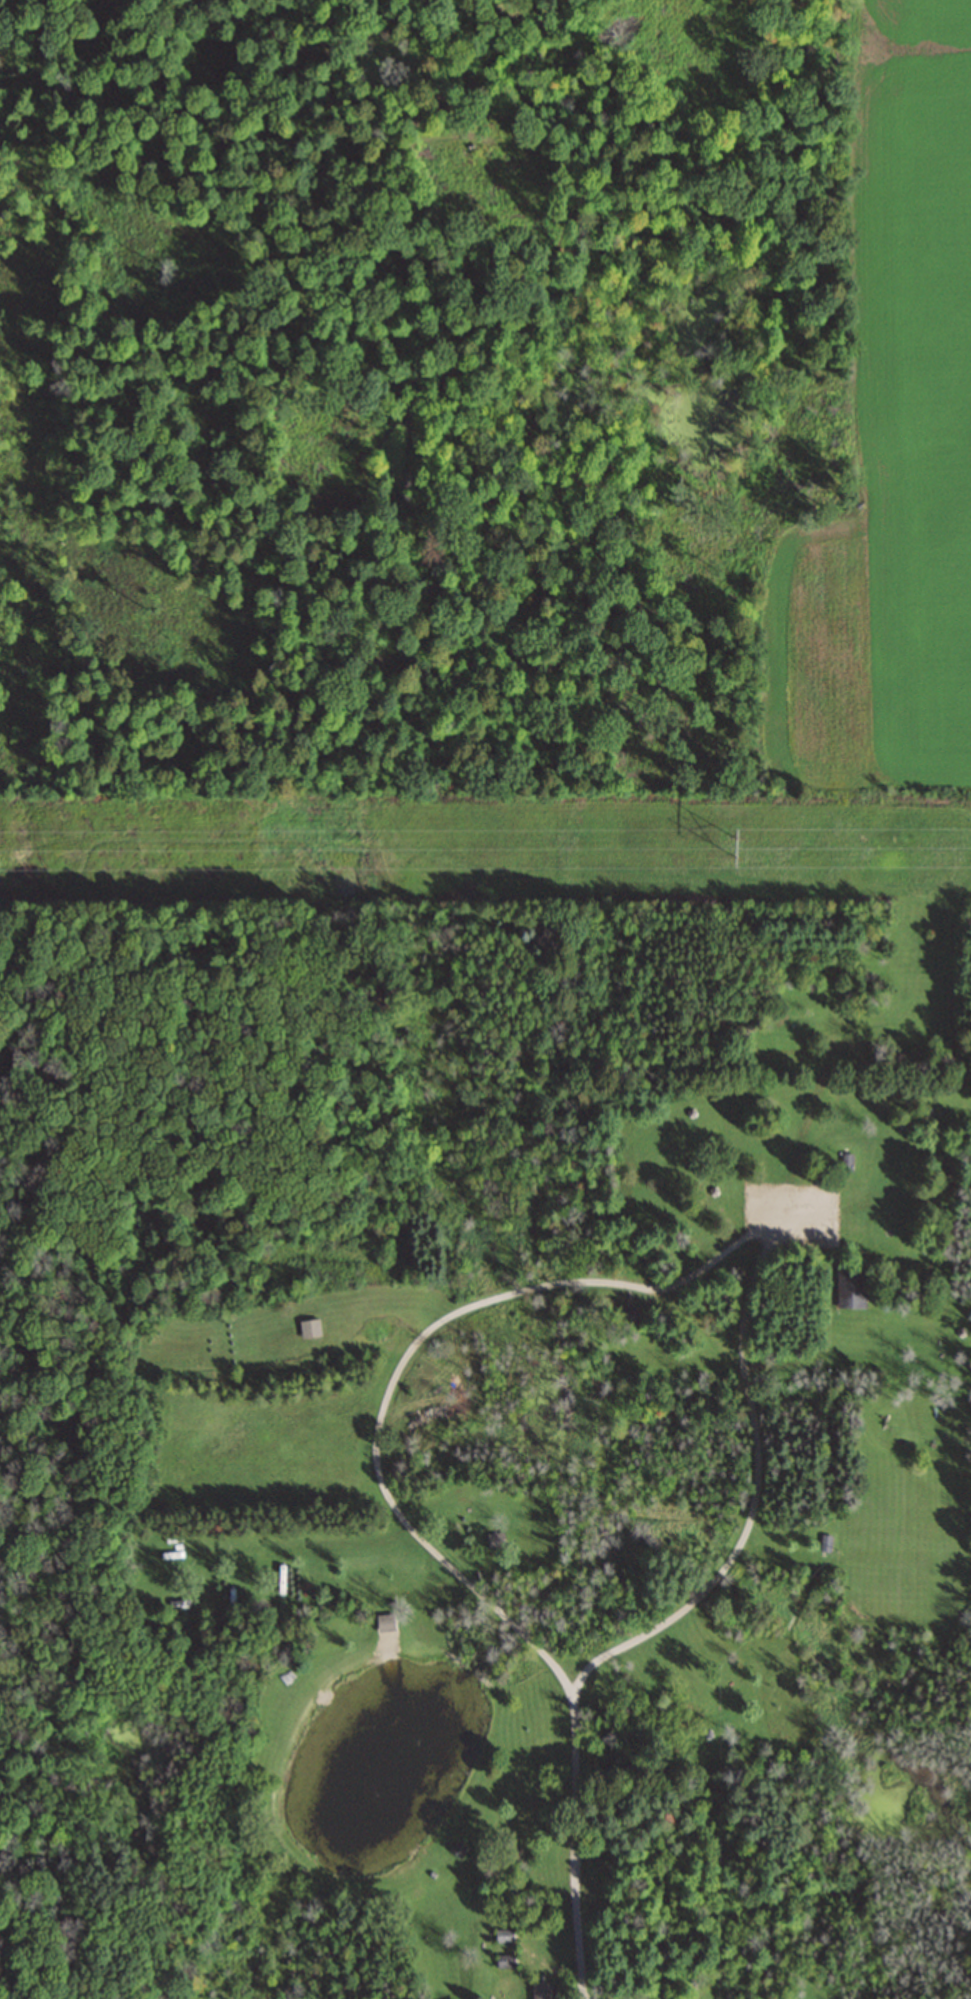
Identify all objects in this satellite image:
power tower: (736, 845)
building: (846, 1161)
building: (851, 1286)
building: (628, 1314)
building: (495, 1539)
building: (825, 1543)
building: (179, 1604)
building: (385, 1622)
building: (458, 1849)
building: (504, 1935)
building: (505, 1961)
building: (542, 1991)

